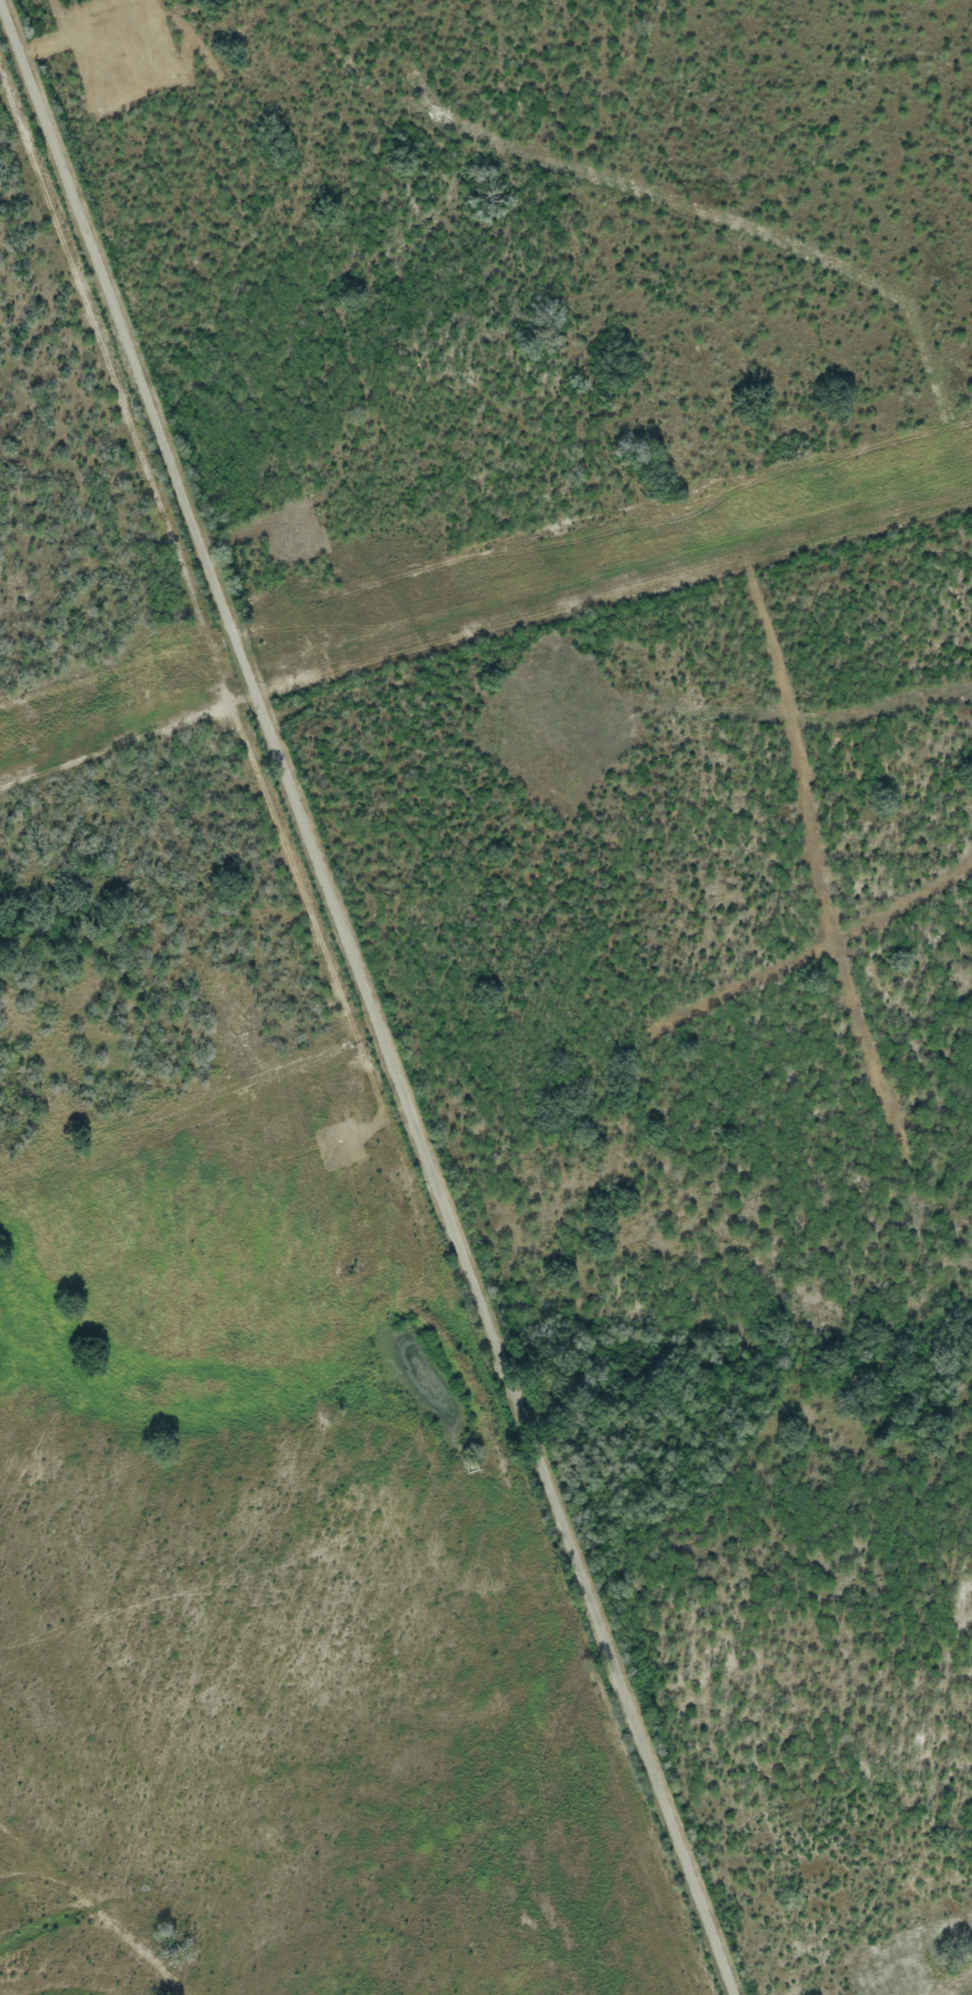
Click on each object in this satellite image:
road: (369, 997)

